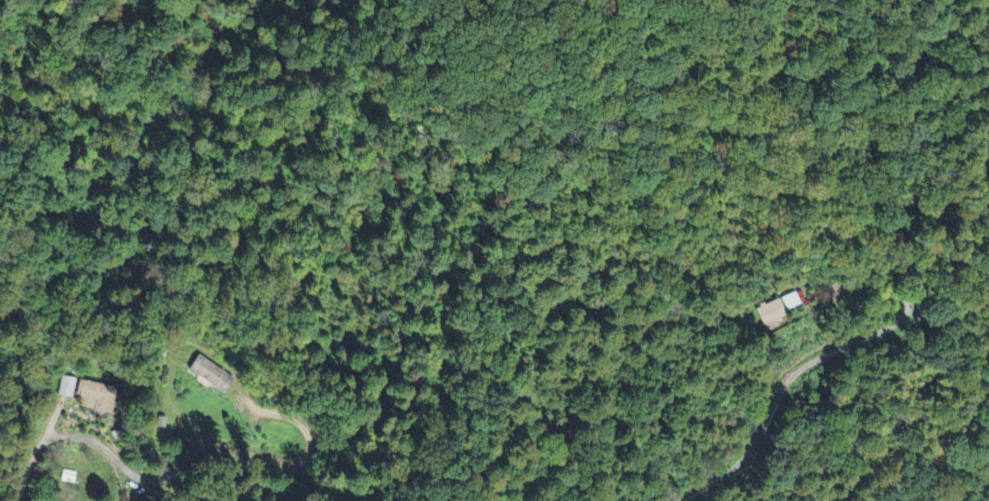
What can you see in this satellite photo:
road: (817, 229)
building: (793, 302)
building: (771, 313)
building: (212, 374)
road: (821, 389)
building: (98, 398)
road: (100, 444)
road: (932, 477)

